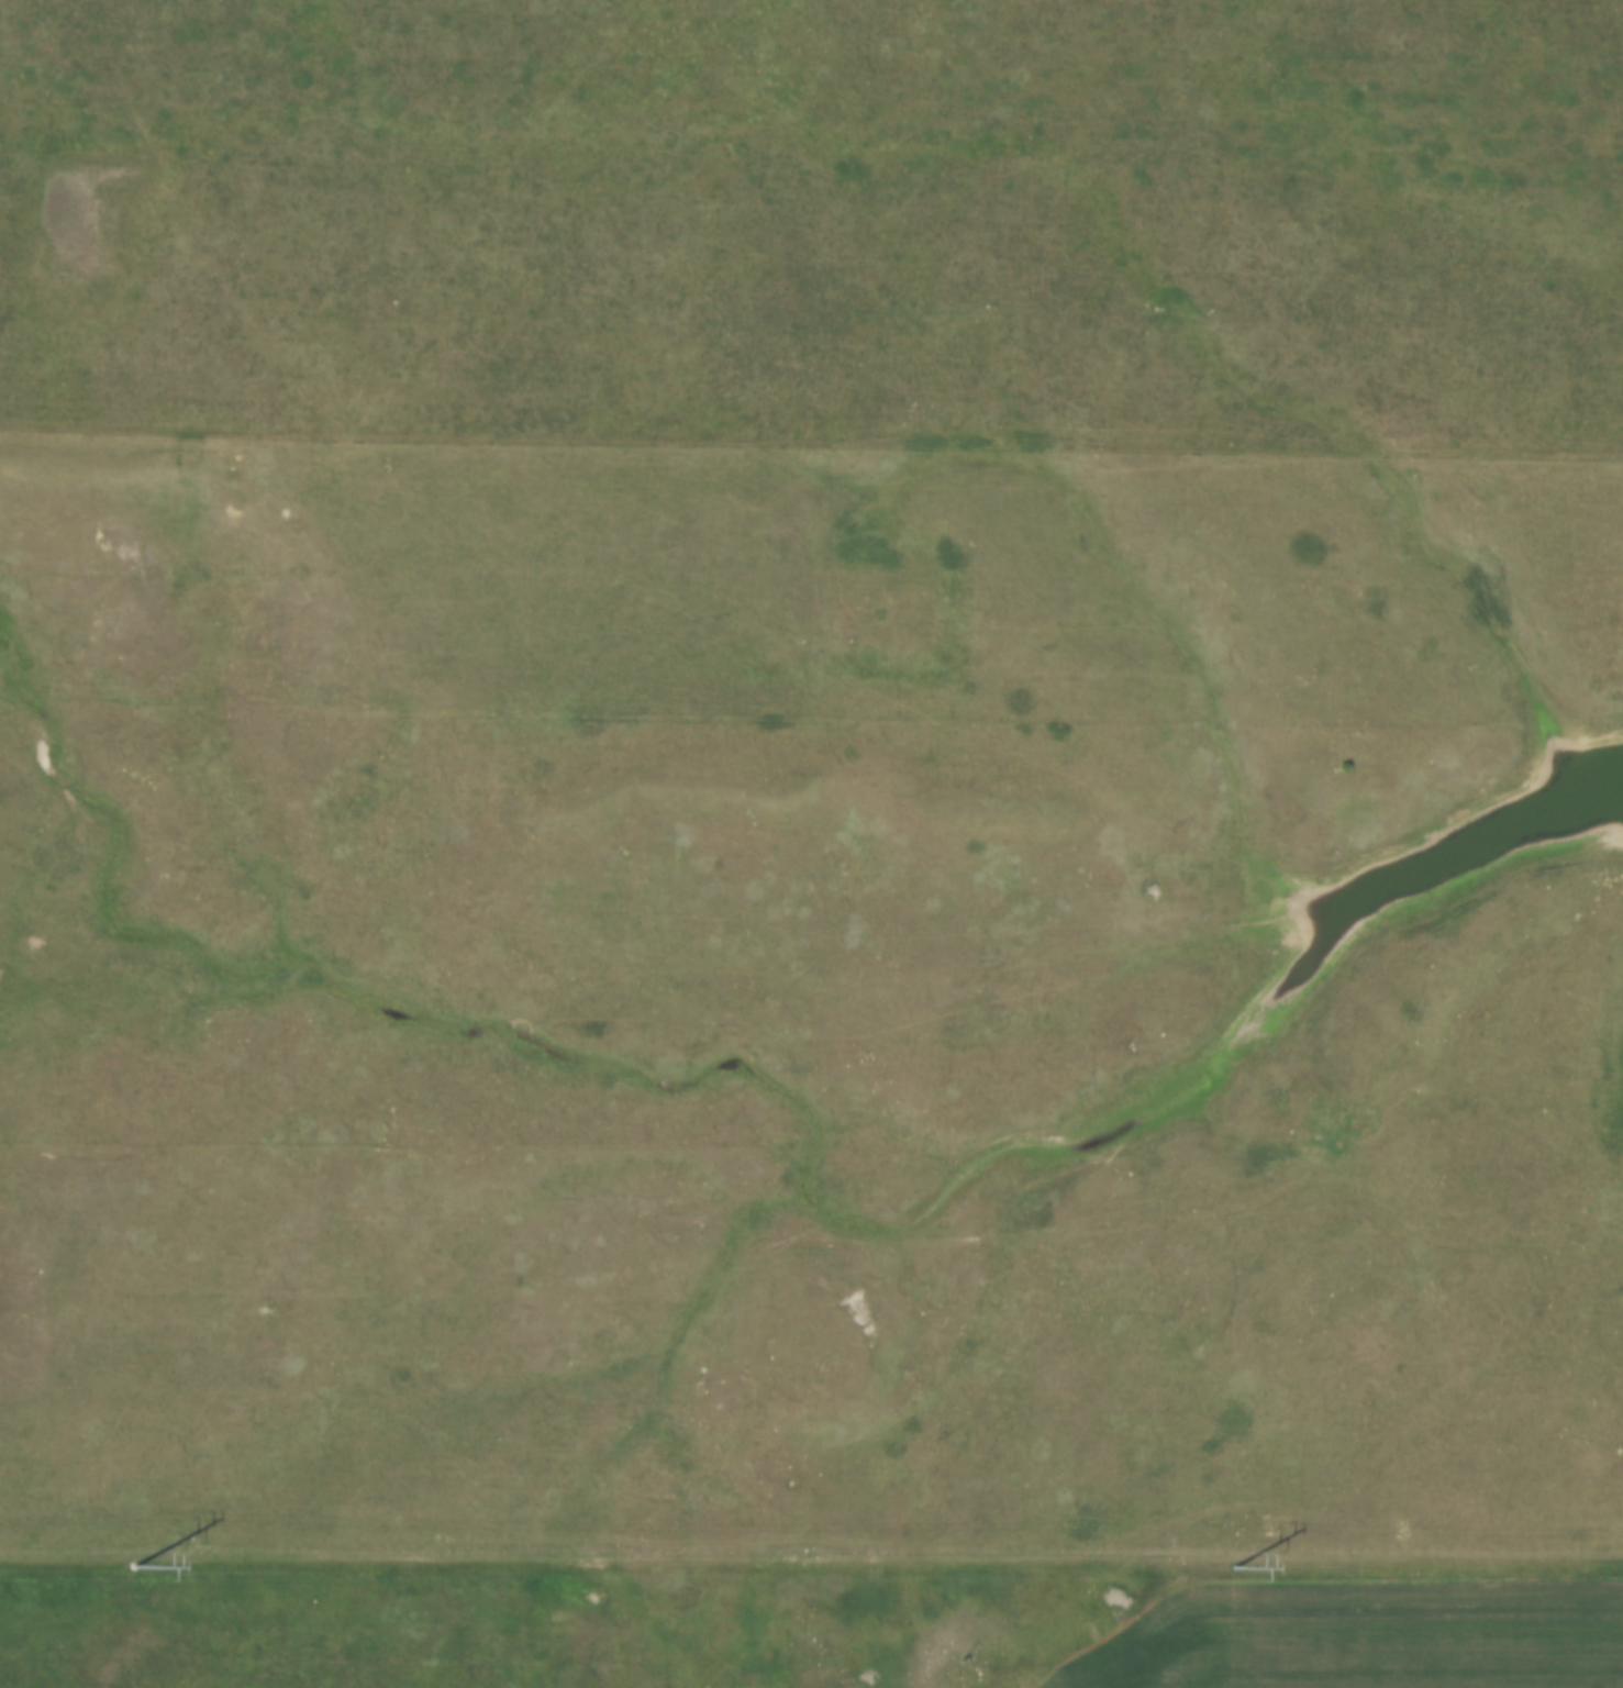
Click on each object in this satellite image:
power tower: (136, 1561)
power tower: (1234, 1567)

